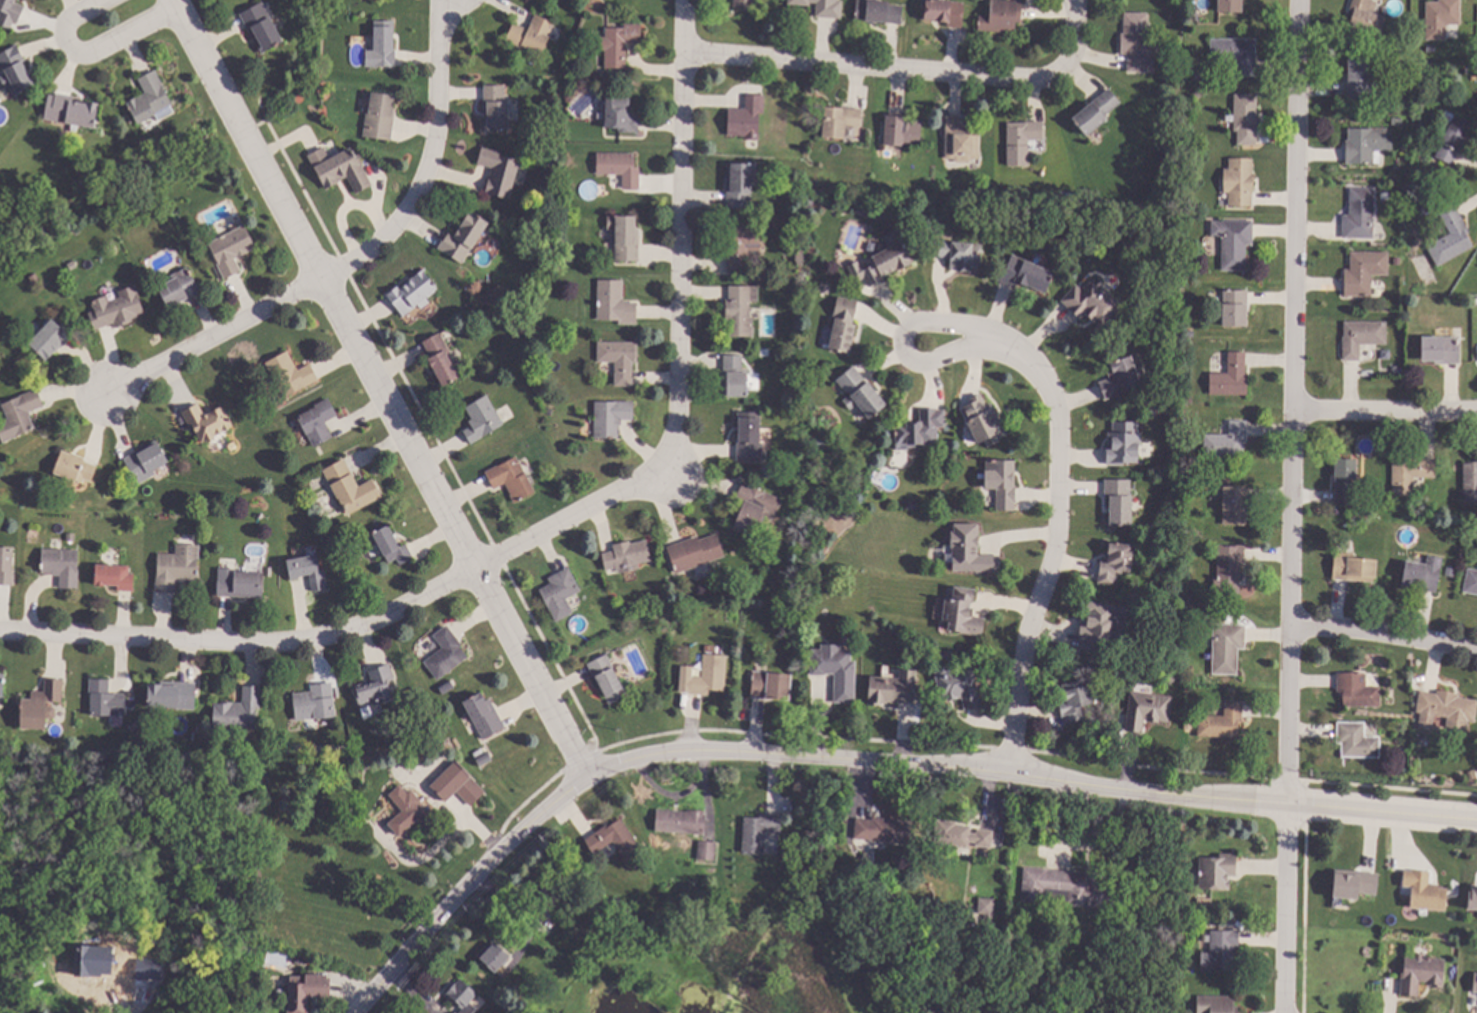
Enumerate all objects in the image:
building: (745, 3)
building: (1230, 6)
building: (823, 7)
building: (11, 9)
building: (878, 12)
building: (944, 12)
building: (1002, 17)
building: (1366, 17)
building: (1442, 18)
building: (263, 28)
building: (532, 34)
building: (1354, 35)
building: (1136, 41)
building: (384, 43)
building: (619, 44)
building: (1431, 49)
road: (90, 54)
building: (1236, 55)
building: (15, 70)
road: (912, 71)
building: (1359, 78)
building: (1198, 93)
building: (150, 98)
building: (1399, 100)
building: (496, 108)
building: (71, 111)
building: (1097, 112)
building: (621, 114)
road: (232, 115)
building: (1448, 116)
building: (380, 117)
building: (747, 118)
building: (1246, 119)
building: (1397, 121)
building: (842, 123)
building: (903, 131)
building: (1454, 138)
building: (961, 140)
building: (1022, 141)
building: (1365, 144)
road: (426, 162)
building: (620, 168)
building: (341, 169)
building: (499, 172)
building: (1239, 182)
building: (740, 184)
building: (1360, 215)
building: (464, 237)
building: (625, 237)
building: (1451, 238)
building: (1234, 242)
building: (744, 245)
building: (232, 250)
building: (959, 253)
building: (886, 263)
building: (1364, 272)
building: (1024, 273)
building: (179, 288)
building: (413, 293)
building: (1093, 302)
building: (615, 303)
building: (1231, 306)
building: (117, 309)
building: (741, 310)
building: (844, 325)
building: (1362, 337)
building: (51, 338)
road: (214, 339)
road: (675, 344)
road: (901, 348)
building: (1440, 349)
building: (441, 359)
building: (620, 359)
building: (290, 375)
building: (735, 376)
building: (1124, 377)
building: (1231, 377)
building: (861, 392)
building: (1189, 399)
road: (1386, 403)
building: (1151, 411)
building: (22, 412)
building: (611, 418)
building: (482, 419)
building: (984, 421)
building: (207, 422)
building: (319, 422)
building: (1187, 422)
building: (920, 428)
building: (749, 436)
building: (5, 440)
building: (1227, 441)
building: (1124, 444)
building: (146, 461)
building: (75, 468)
building: (1410, 474)
building: (512, 479)
building: (1344, 481)
building: (1002, 482)
building: (1191, 483)
building: (1470, 483)
building: (351, 488)
building: (1119, 500)
road: (440, 503)
building: (912, 505)
building: (1234, 505)
road: (1293, 506)
building: (755, 509)
building: (1374, 514)
road: (1054, 543)
building: (391, 546)
building: (971, 551)
building: (695, 552)
building: (627, 556)
building: (1116, 561)
building: (7, 566)
building: (62, 566)
building: (1353, 568)
building: (175, 570)
building: (308, 571)
building: (1229, 571)
building: (1423, 574)
building: (115, 576)
building: (1471, 581)
building: (242, 585)
building: (560, 594)
building: (963, 612)
building: (1101, 624)
road: (1383, 639)
road: (245, 645)
building: (1227, 648)
building: (446, 653)
building: (1186, 669)
building: (836, 670)
building: (710, 675)
building: (608, 679)
building: (2, 683)
building: (771, 685)
building: (959, 686)
building: (375, 689)
building: (893, 689)
building: (1358, 690)
building: (172, 695)
building: (106, 699)
building: (1076, 699)
building: (745, 702)
building: (315, 703)
building: (41, 705)
building: (1448, 708)
building: (1146, 709)
building: (239, 711)
building: (484, 715)
building: (1222, 722)
building: (1188, 725)
building: (1357, 741)
building: (482, 756)
road: (864, 762)
building: (1472, 774)
building: (456, 784)
building: (409, 810)
road: (443, 818)
building: (681, 821)
building: (885, 830)
building: (759, 832)
building: (961, 835)
building: (615, 840)
building: (880, 844)
building: (707, 851)
road: (412, 864)
building: (1218, 871)
building: (1350, 885)
building: (1066, 888)
park: (812, 890)
building: (1424, 890)
building: (549, 898)
building: (1471, 899)
building: (611, 905)
building: (987, 913)
building: (902, 932)
building: (1220, 951)
building: (494, 957)
building: (302, 959)
building: (99, 968)
building: (1421, 973)
building: (126, 982)
building: (1473, 984)
building: (307, 991)
building: (1150, 992)
building: (281, 994)
building: (463, 996)
building: (1122, 998)
building: (1216, 1004)
building: (456, 1012)

